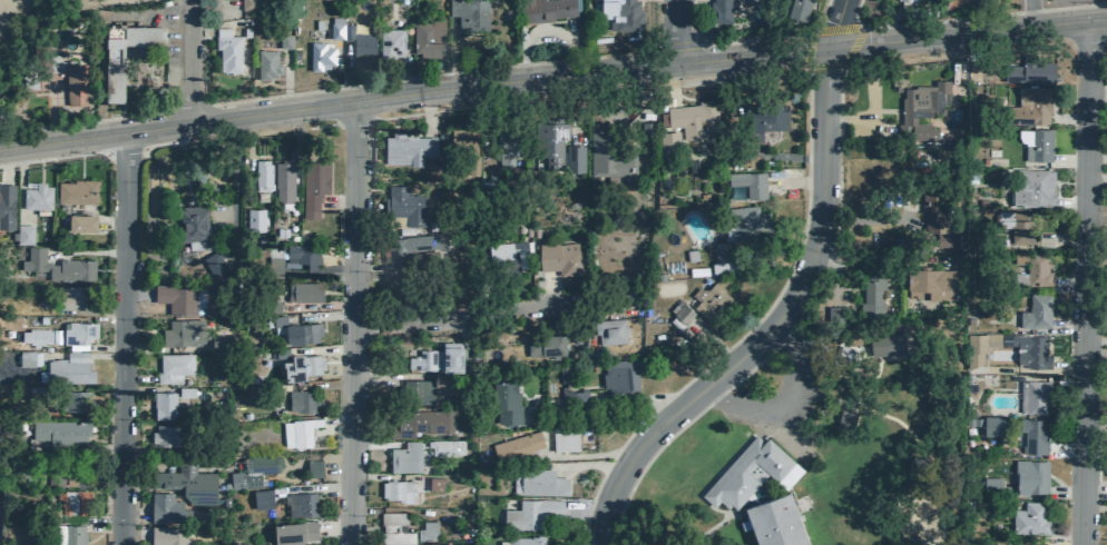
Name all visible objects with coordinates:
building: (905, 0)
street lamp: (1087, 1)
road: (215, 2)
building: (247, 4)
building: (545, 9)
building: (797, 9)
road: (948, 9)
building: (718, 10)
building: (469, 13)
building: (620, 13)
road: (1031, 13)
road: (981, 16)
road: (968, 17)
building: (317, 23)
building: (335, 27)
road: (673, 29)
road: (835, 30)
road: (202, 31)
road: (545, 34)
parking lot: (165, 37)
building: (427, 37)
building: (357, 39)
building: (284, 40)
road: (750, 40)
building: (390, 41)
road: (1016, 41)
road: (675, 44)
road: (851, 47)
building: (226, 49)
road: (807, 49)
building: (320, 56)
road: (190, 63)
building: (266, 63)
road: (824, 66)
road: (337, 70)
building: (1028, 70)
road: (346, 71)
building: (112, 72)
road: (551, 72)
road: (403, 75)
road: (430, 75)
building: (52, 76)
road: (285, 80)
road: (667, 80)
road: (869, 80)
road: (1095, 90)
road: (569, 107)
building: (1028, 107)
building: (920, 109)
road: (427, 112)
road: (53, 113)
building: (763, 117)
building: (693, 118)
road: (860, 118)
road: (1068, 118)
road: (82, 121)
road: (324, 125)
road: (245, 132)
road: (294, 132)
building: (550, 139)
road: (158, 142)
building: (669, 143)
building: (1035, 145)
building: (464, 147)
building: (506, 147)
building: (406, 148)
road: (123, 150)
building: (611, 151)
road: (56, 156)
road: (791, 157)
building: (944, 157)
road: (1096, 157)
road: (369, 158)
building: (572, 158)
road: (1069, 160)
road: (4, 167)
road: (183, 170)
building: (261, 175)
building: (284, 178)
road: (1096, 179)
road: (232, 180)
building: (313, 181)
building: (747, 182)
road: (19, 187)
building: (1031, 187)
building: (76, 191)
building: (36, 196)
road: (336, 199)
road: (1071, 200)
building: (403, 205)
building: (6, 206)
building: (933, 212)
road: (1096, 217)
road: (870, 218)
building: (80, 222)
road: (112, 222)
building: (193, 222)
building: (1015, 224)
building: (739, 228)
building: (23, 234)
road: (1062, 239)
building: (410, 245)
road: (87, 251)
building: (302, 254)
building: (690, 255)
building: (504, 256)
road: (874, 256)
building: (429, 257)
building: (559, 257)
building: (954, 260)
building: (213, 264)
building: (273, 265)
building: (60, 266)
road: (375, 266)
building: (719, 267)
road: (329, 270)
building: (1032, 270)
building: (928, 281)
road: (1085, 283)
road: (1069, 284)
road: (549, 289)
building: (305, 290)
building: (872, 294)
building: (69, 297)
building: (175, 297)
building: (709, 301)
road: (317, 305)
road: (787, 305)
road: (144, 309)
building: (682, 313)
building: (834, 313)
building: (1033, 313)
road: (324, 315)
road: (106, 317)
road: (460, 317)
road: (351, 321)
road: (1068, 323)
building: (295, 329)
building: (609, 329)
road: (745, 329)
building: (77, 333)
building: (184, 333)
road: (785, 334)
building: (35, 337)
road: (1095, 339)
road: (121, 340)
road: (711, 340)
building: (219, 344)
building: (543, 345)
building: (884, 346)
road: (105, 347)
road: (145, 347)
road: (320, 349)
building: (978, 349)
building: (1029, 349)
building: (277, 351)
road: (99, 355)
building: (841, 356)
building: (438, 357)
building: (29, 359)
building: (174, 366)
building: (300, 366)
building: (67, 370)
road: (1041, 370)
road: (389, 376)
building: (621, 376)
road: (137, 378)
road: (1068, 380)
road: (1094, 384)
road: (322, 385)
parking lot: (776, 385)
building: (422, 388)
road: (144, 389)
building: (185, 392)
building: (1032, 395)
building: (59, 398)
building: (574, 398)
road: (636, 399)
building: (301, 400)
building: (504, 400)
road: (790, 403)
building: (163, 405)
building: (419, 420)
building: (845, 420)
road: (1096, 424)
building: (992, 425)
road: (366, 429)
building: (58, 432)
building: (298, 432)
building: (167, 435)
building: (1032, 436)
building: (535, 443)
road: (375, 444)
building: (445, 446)
road: (135, 448)
road: (1065, 449)
road: (588, 455)
building: (404, 457)
park: (820, 458)
road: (587, 464)
road: (146, 466)
building: (313, 467)
building: (253, 469)
building: (745, 472)
road: (388, 475)
building: (1029, 476)
building: (56, 480)
building: (69, 480)
building: (82, 482)
building: (538, 482)
building: (186, 483)
building: (990, 483)
building: (434, 484)
road: (311, 487)
building: (393, 488)
road: (1067, 490)
road: (1095, 490)
building: (261, 498)
building: (66, 502)
building: (300, 504)
road: (1095, 507)
building: (166, 508)
road: (133, 512)
building: (531, 513)
road: (92, 518)
building: (1027, 518)
building: (774, 522)
road: (332, 527)
road: (713, 527)
road: (102, 528)
building: (393, 528)
road: (1067, 529)
building: (427, 531)
building: (293, 532)
building: (69, 534)
road: (133, 534)
building: (169, 536)
building: (522, 539)
building: (438, 544)
building: (1025, 544)
road: (1056, 544)

